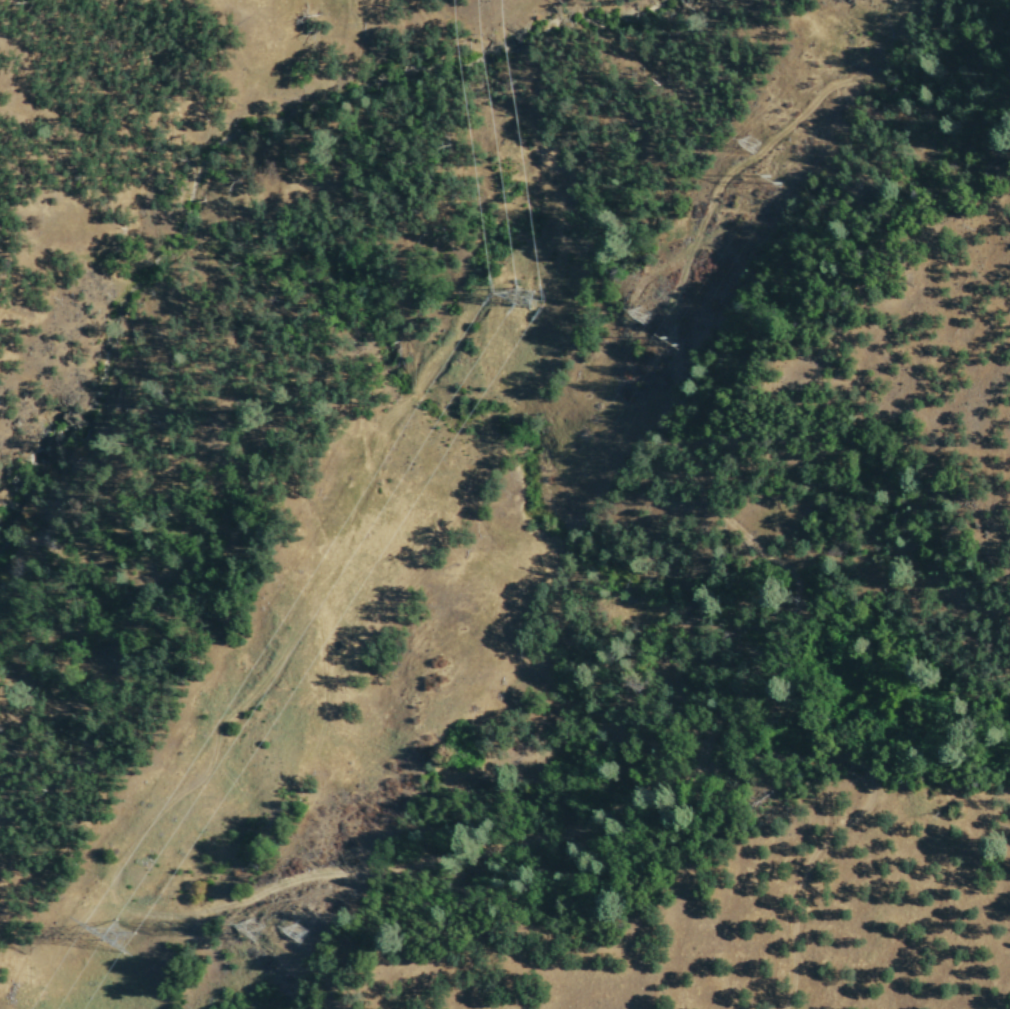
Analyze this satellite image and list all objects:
power tower: (760, 149)
power tower: (786, 191)
power tower: (526, 298)
power tower: (649, 323)
power tower: (681, 342)
power tower: (259, 929)
power tower: (304, 933)
power tower: (127, 940)

